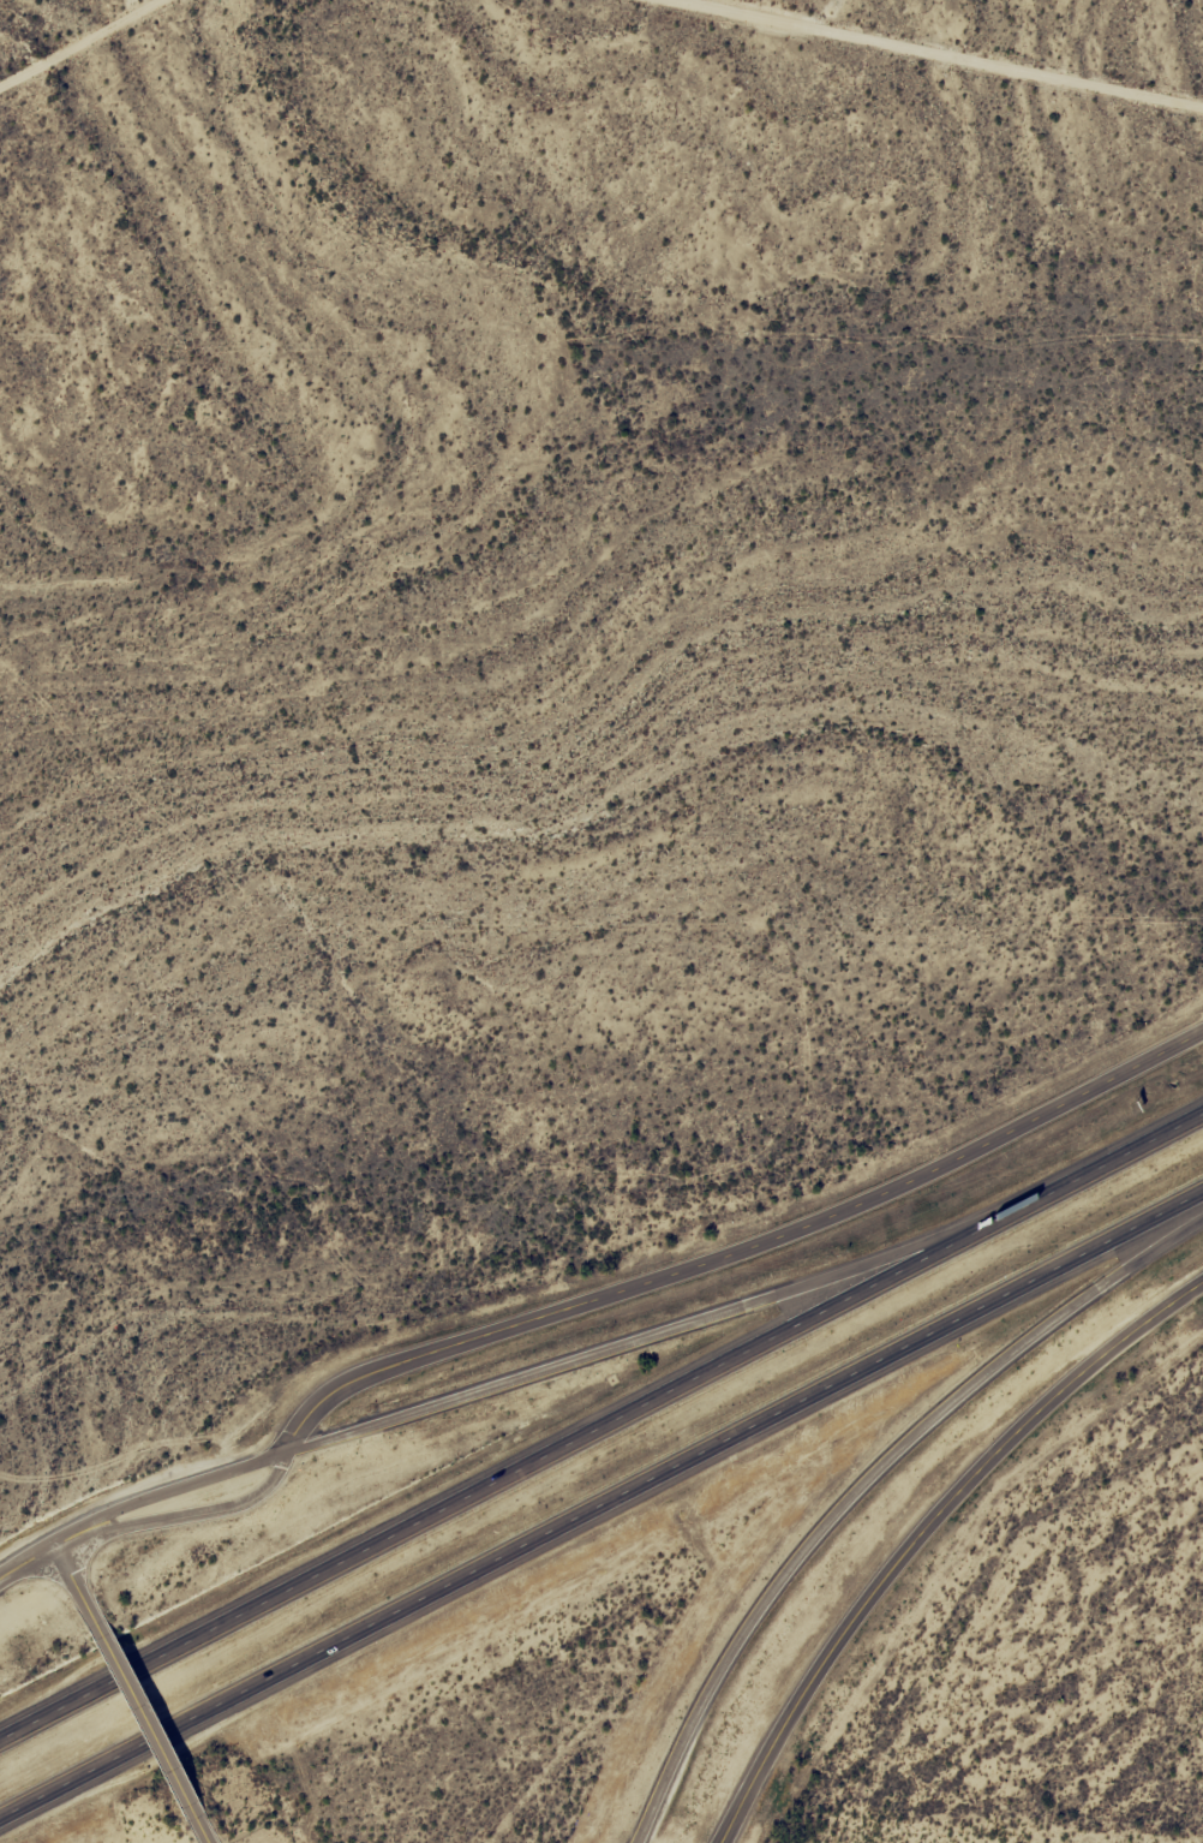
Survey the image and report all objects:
road: (1177, 30)
road: (743, 1251)
road: (651, 1335)
road: (603, 1425)
road: (186, 1483)
road: (874, 1490)
road: (203, 1511)
road: (601, 1513)
road: (926, 1528)
road: (43, 1549)
road: (76, 1588)
road: (146, 1728)
road: (200, 1832)

